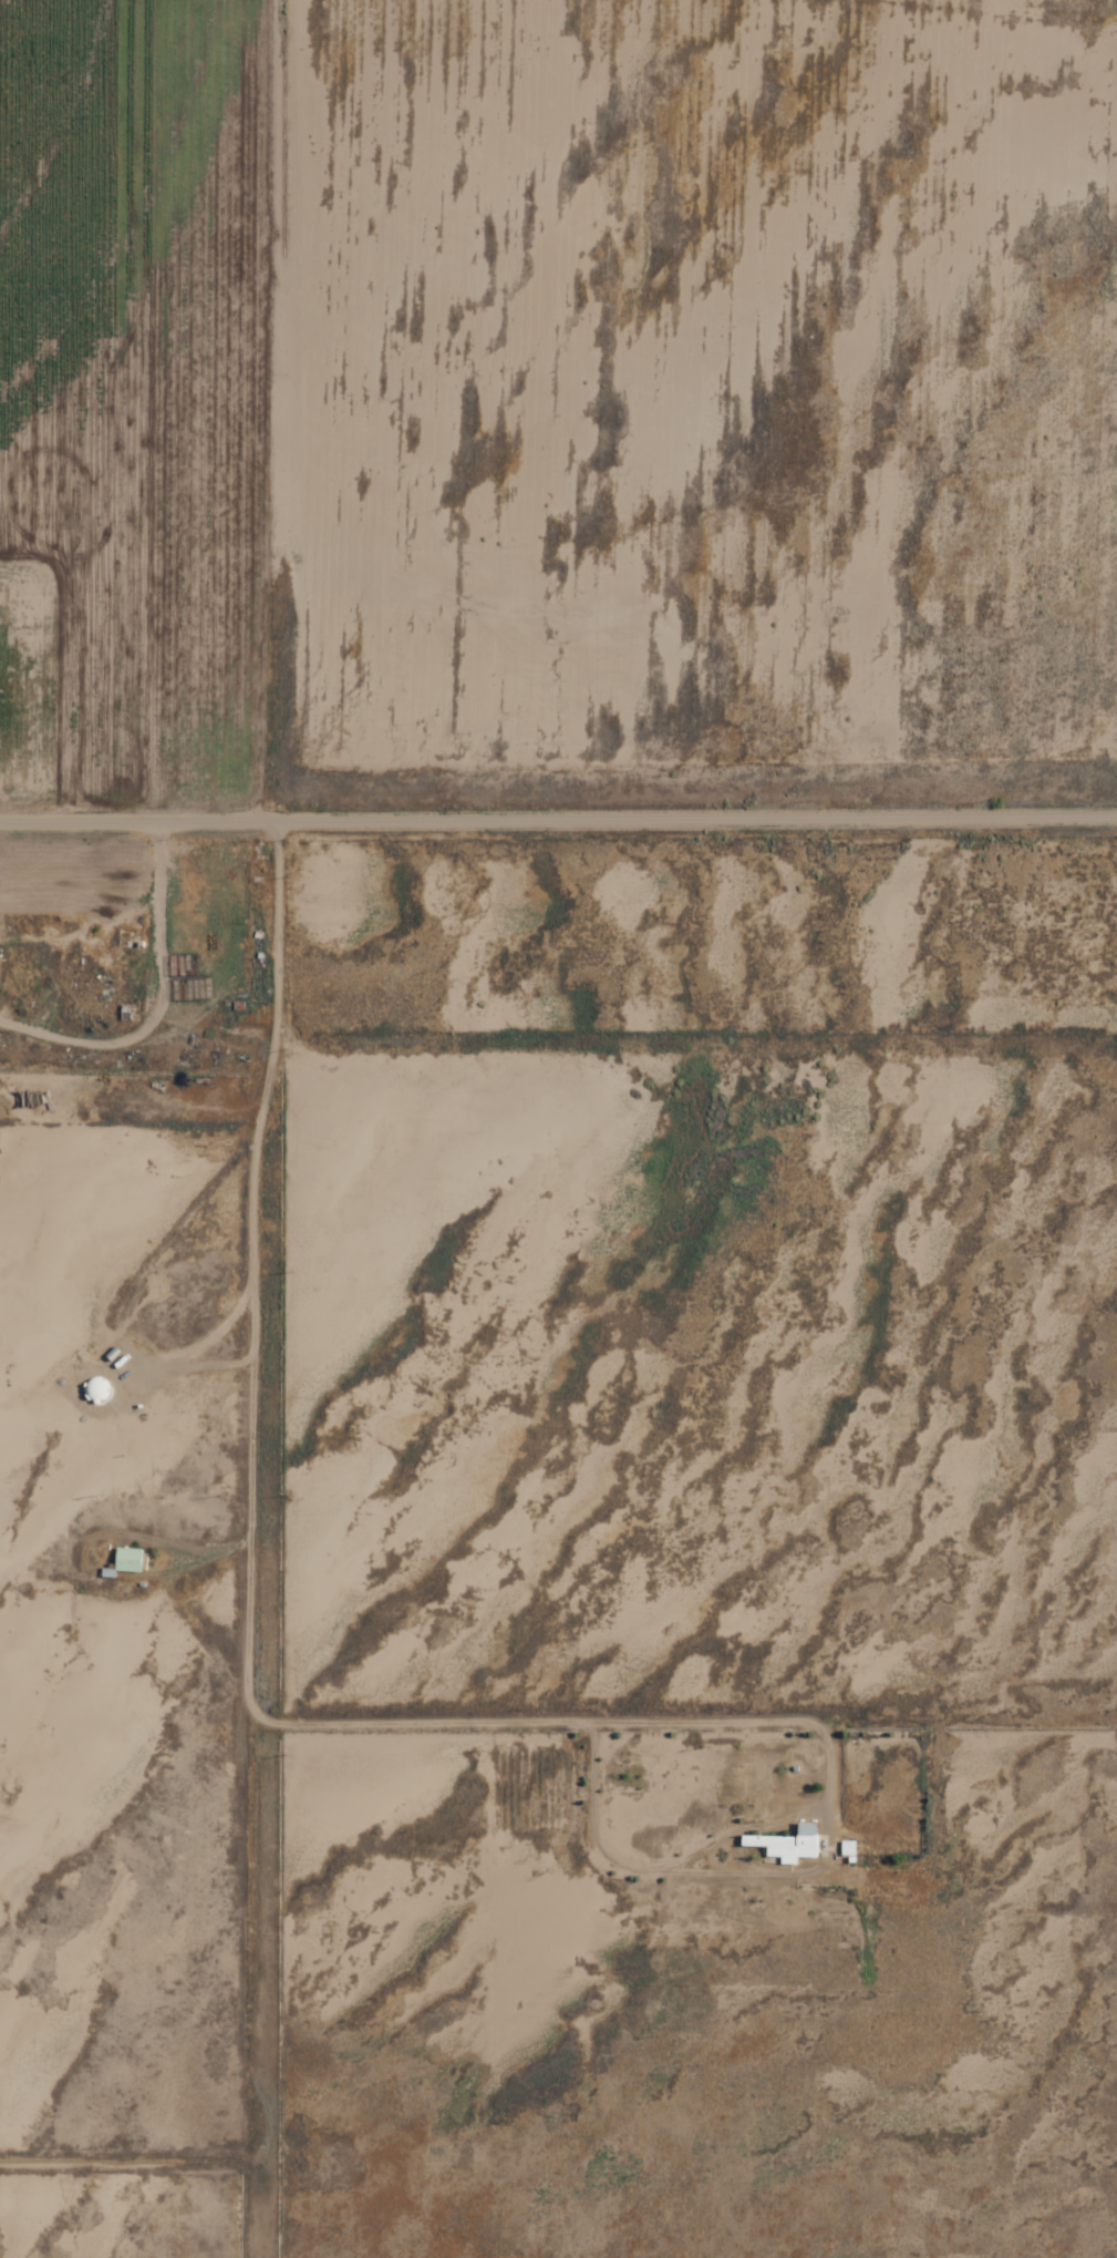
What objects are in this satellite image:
road: (558, 799)
road: (706, 1402)
building: (128, 1559)
building: (788, 1844)
building: (848, 1848)

